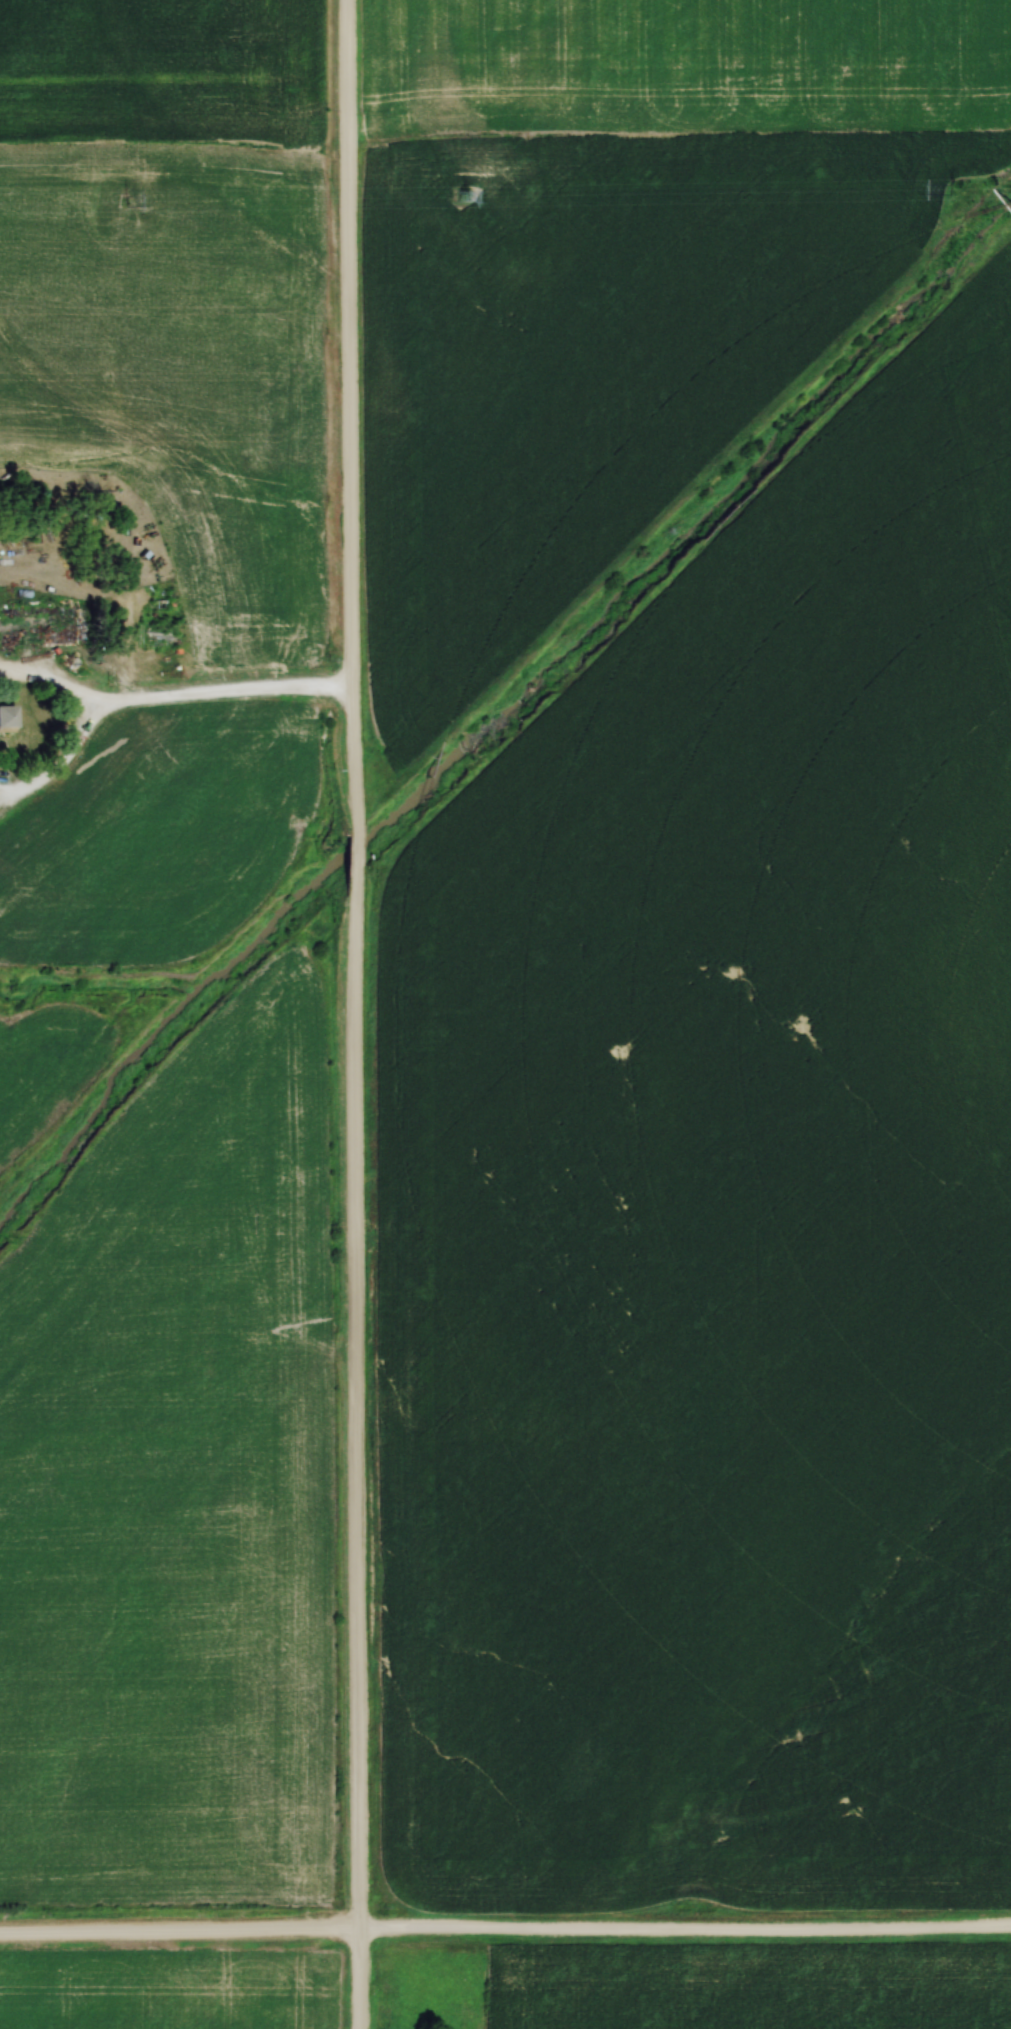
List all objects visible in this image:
power tower: (949, 189)
power tower: (460, 195)
power tower: (123, 199)
road: (347, 415)
building: (39, 625)
road: (173, 696)
river: (497, 709)
building: (7, 714)
road: (349, 858)
road: (356, 1456)
road: (684, 1932)
road: (178, 1935)

